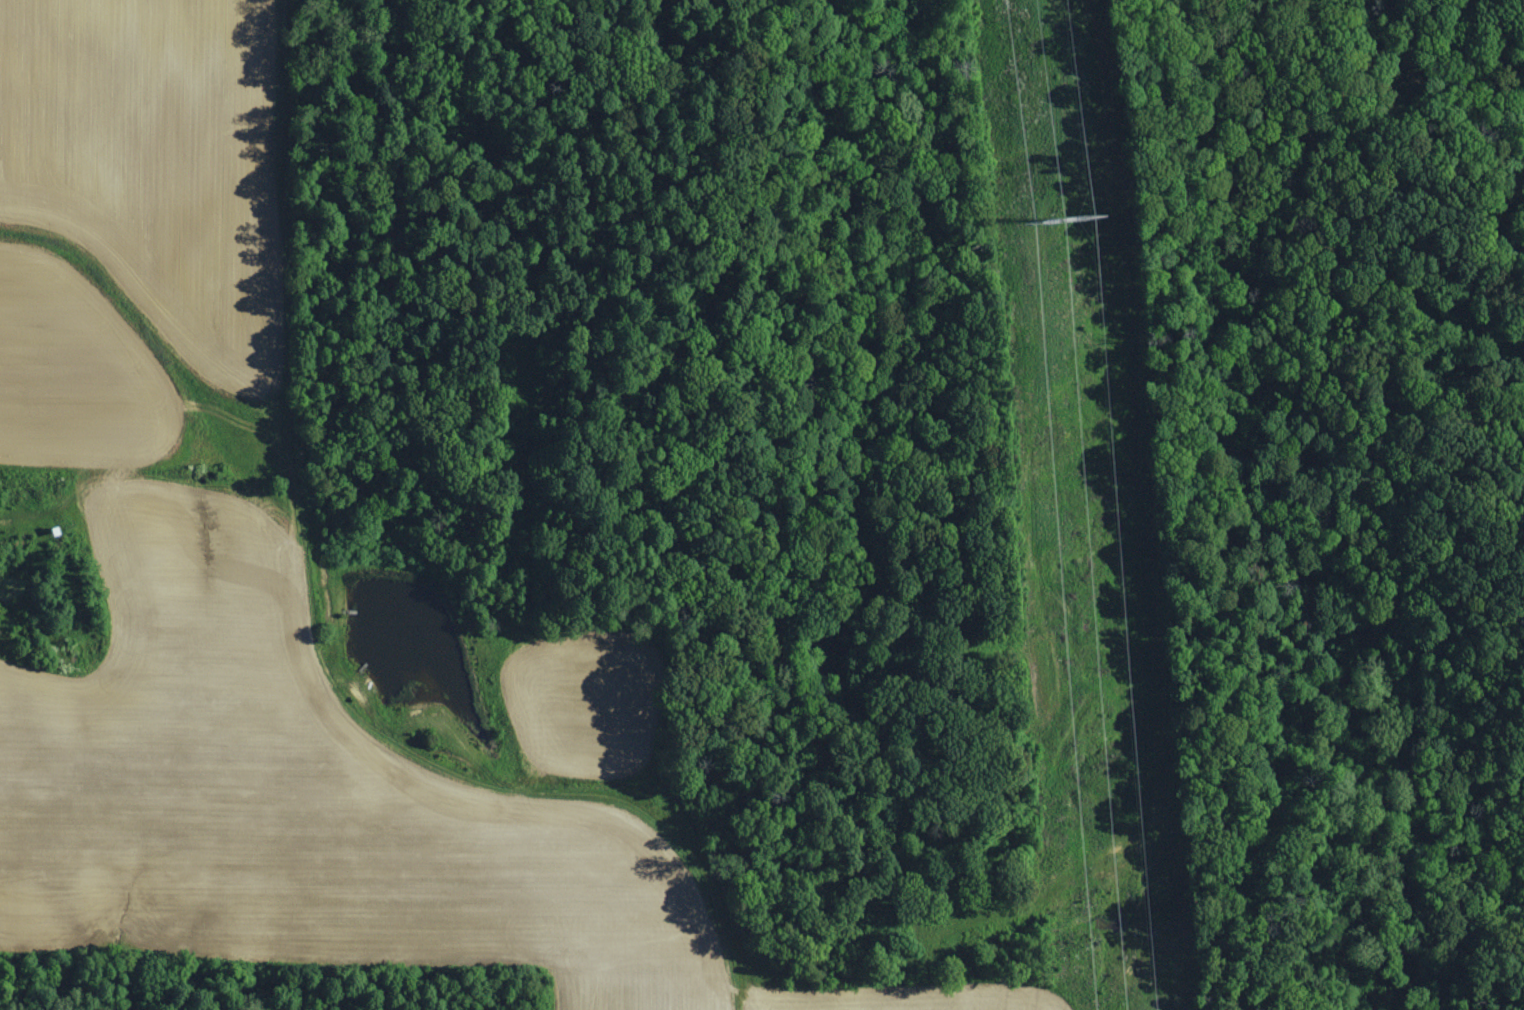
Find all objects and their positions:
power tower: (1055, 219)

